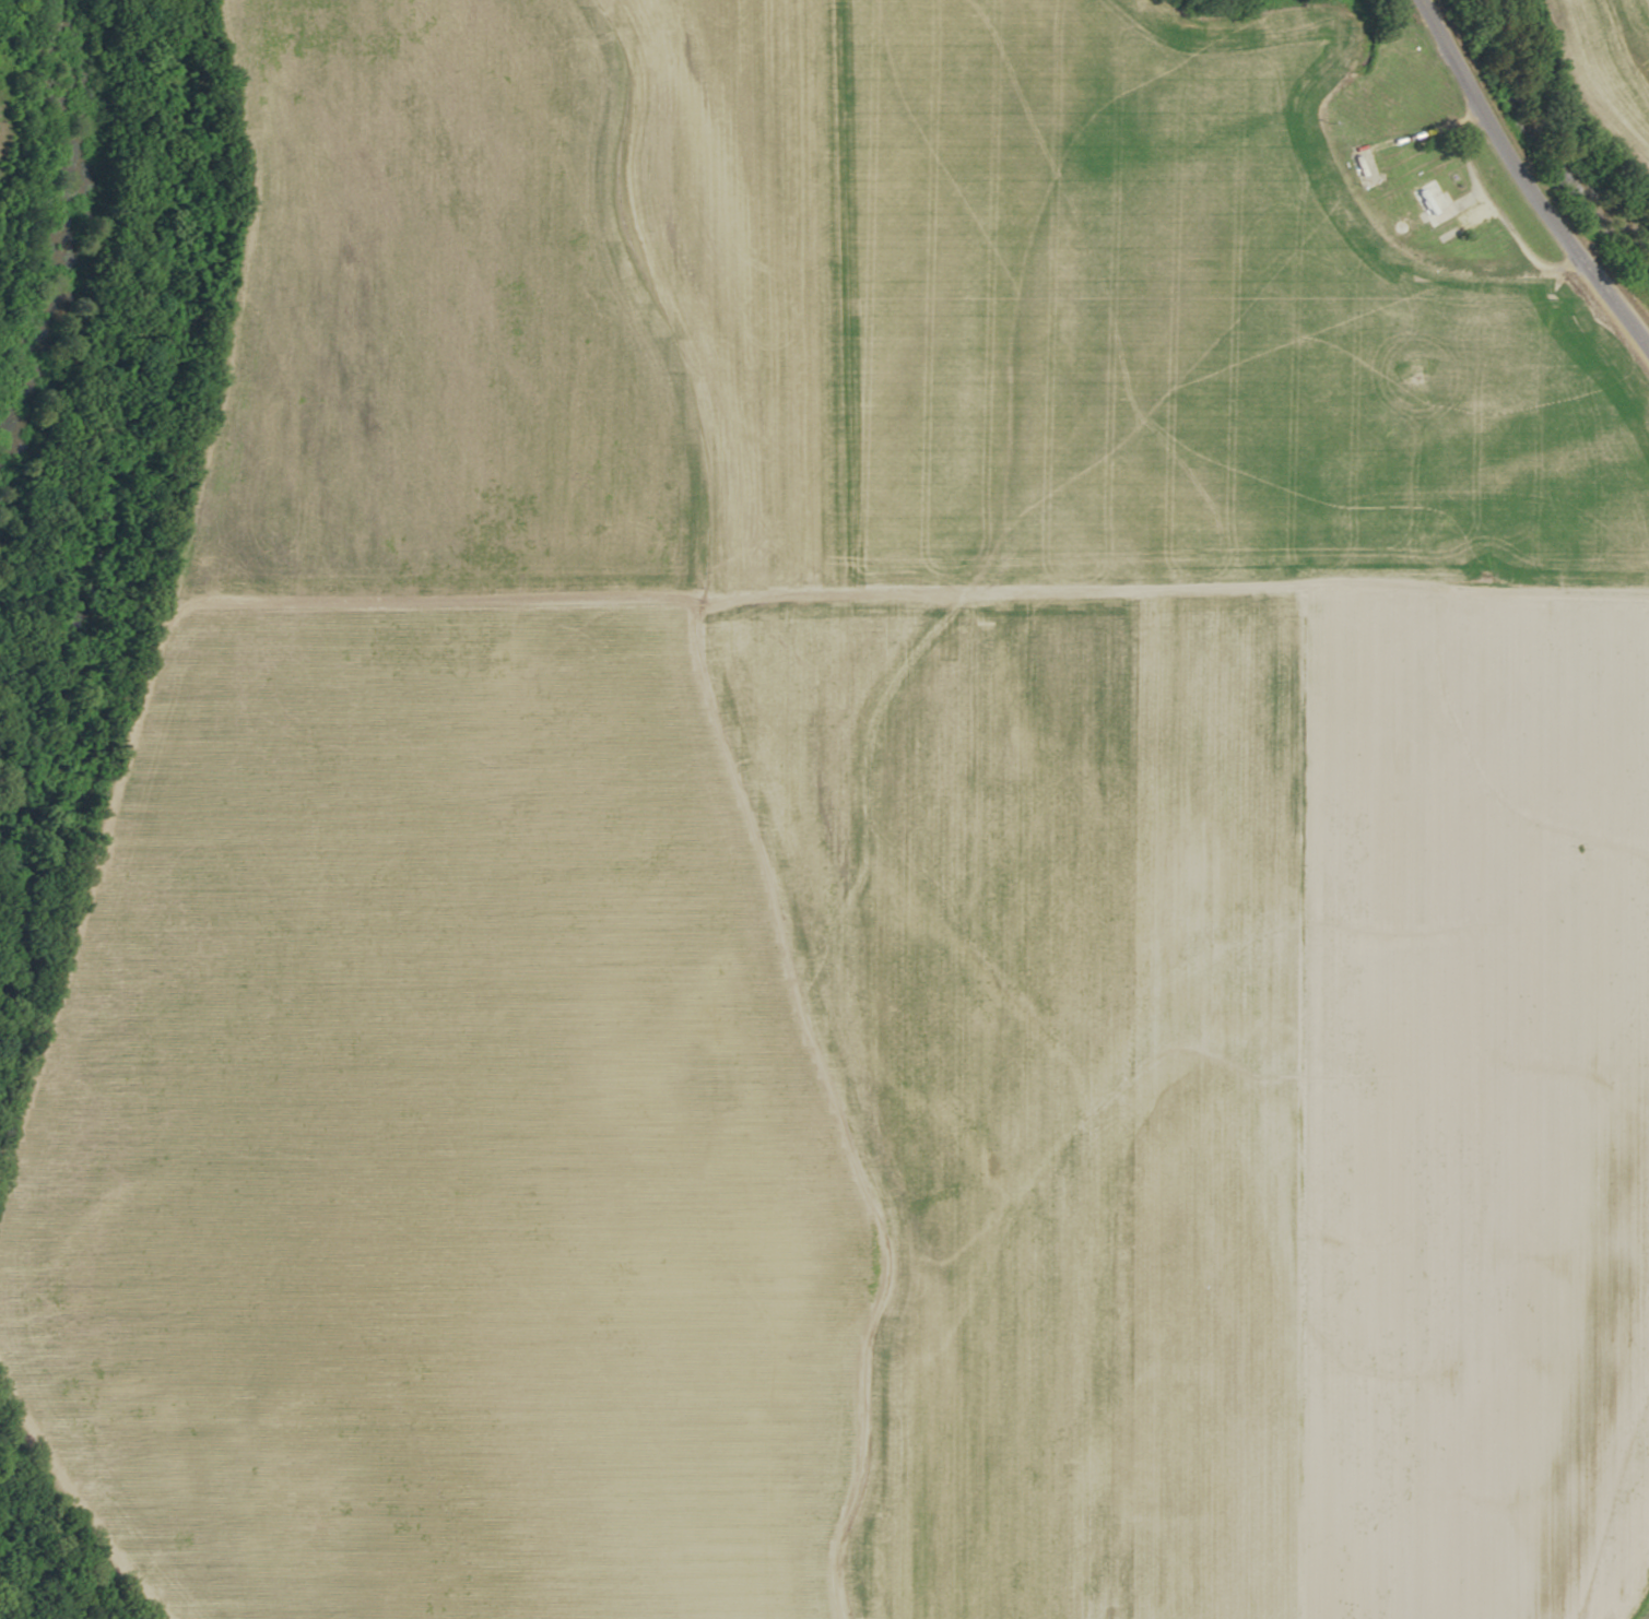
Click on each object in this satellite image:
building: (1369, 177)
building: (1430, 201)
road: (1506, 212)
road: (622, 578)
road: (87, 1503)

